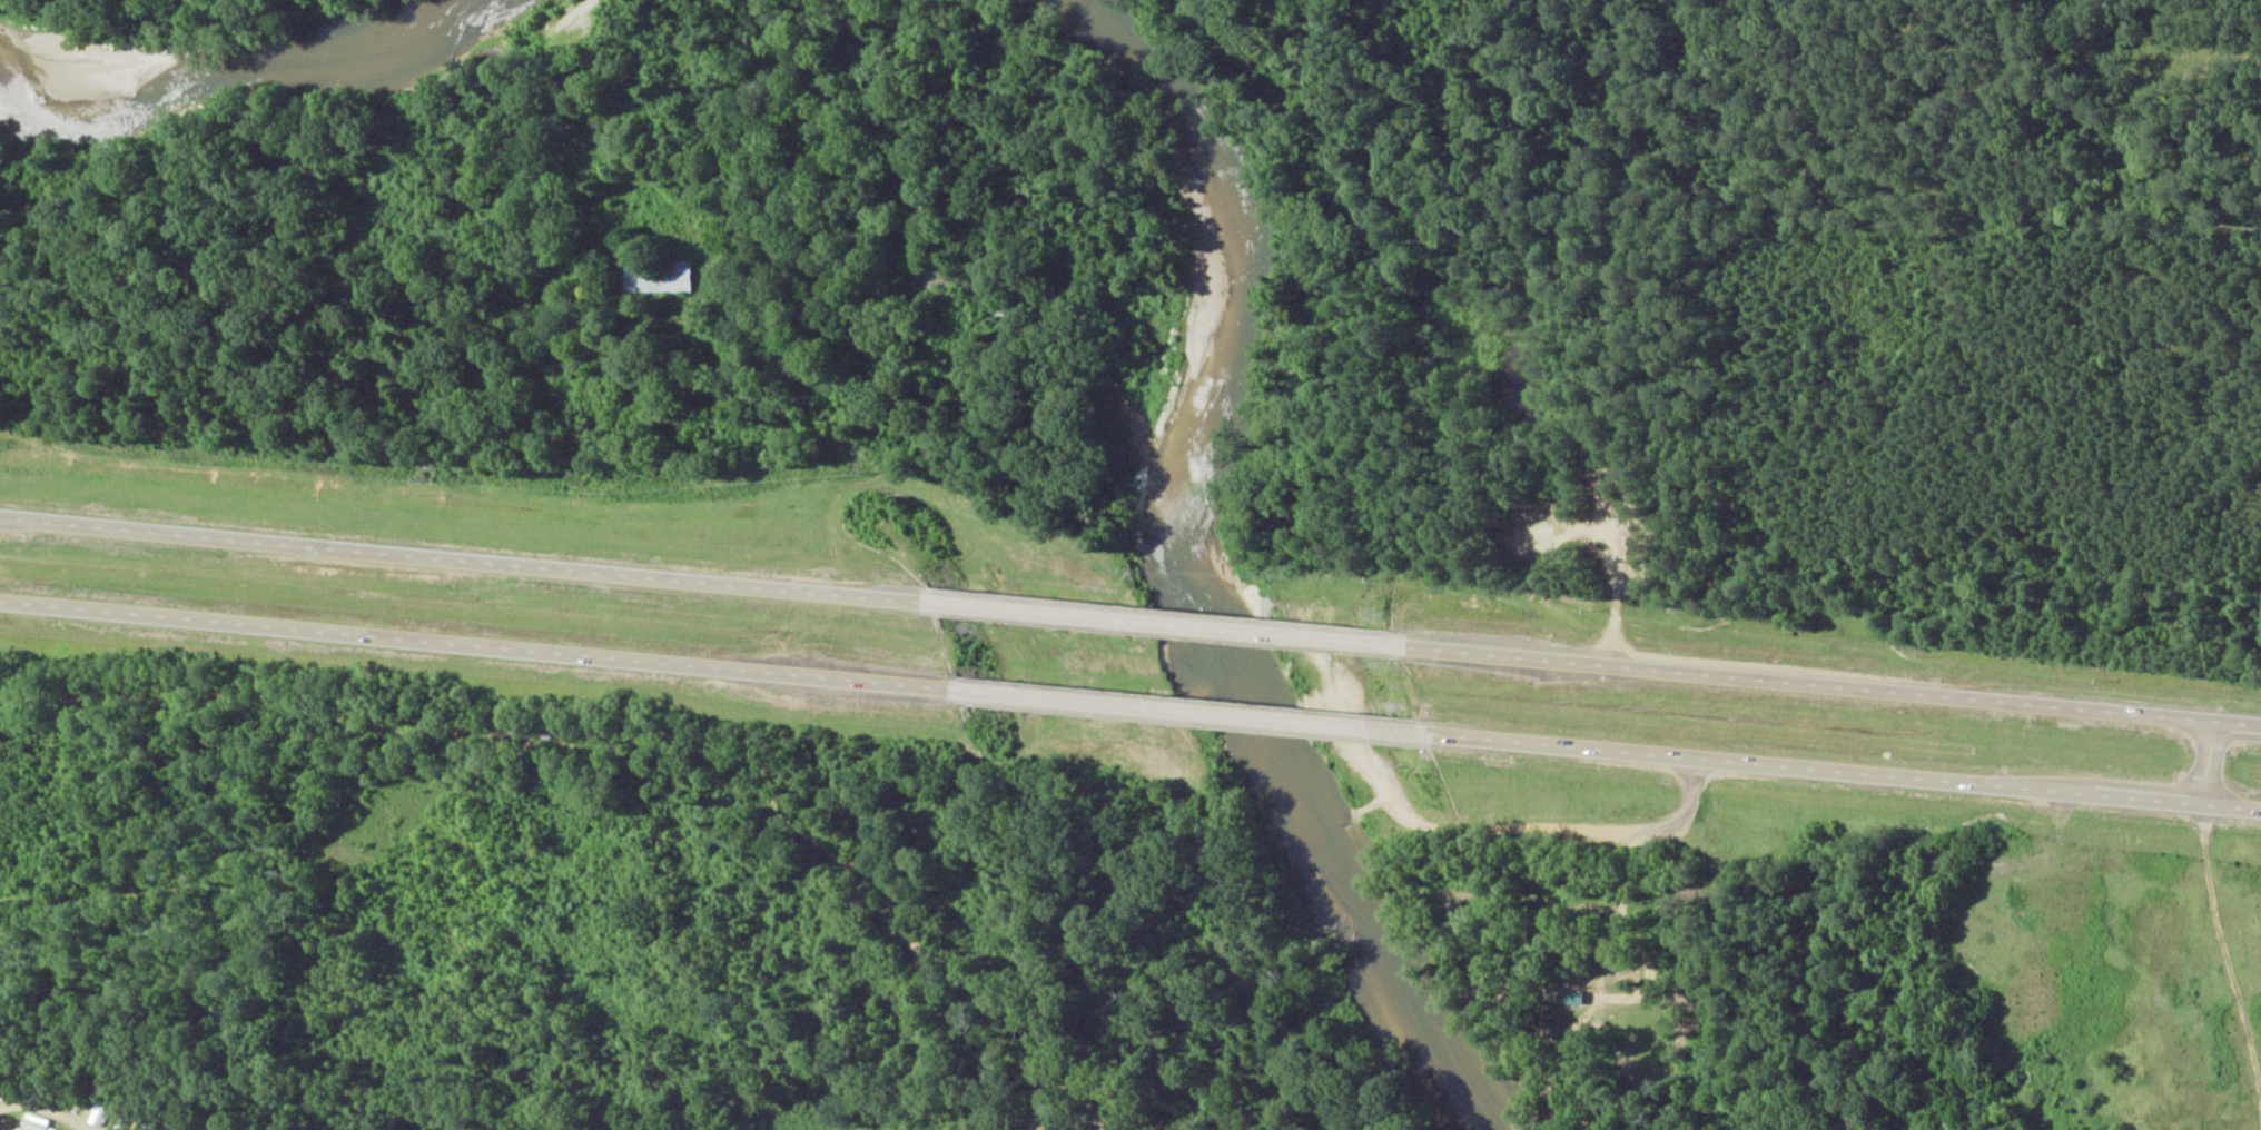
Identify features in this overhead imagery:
road: (460, 561)
road: (1164, 626)
road: (475, 645)
road: (1835, 687)
road: (1188, 712)
road: (2209, 764)
road: (1844, 772)
building: (31, 1122)

